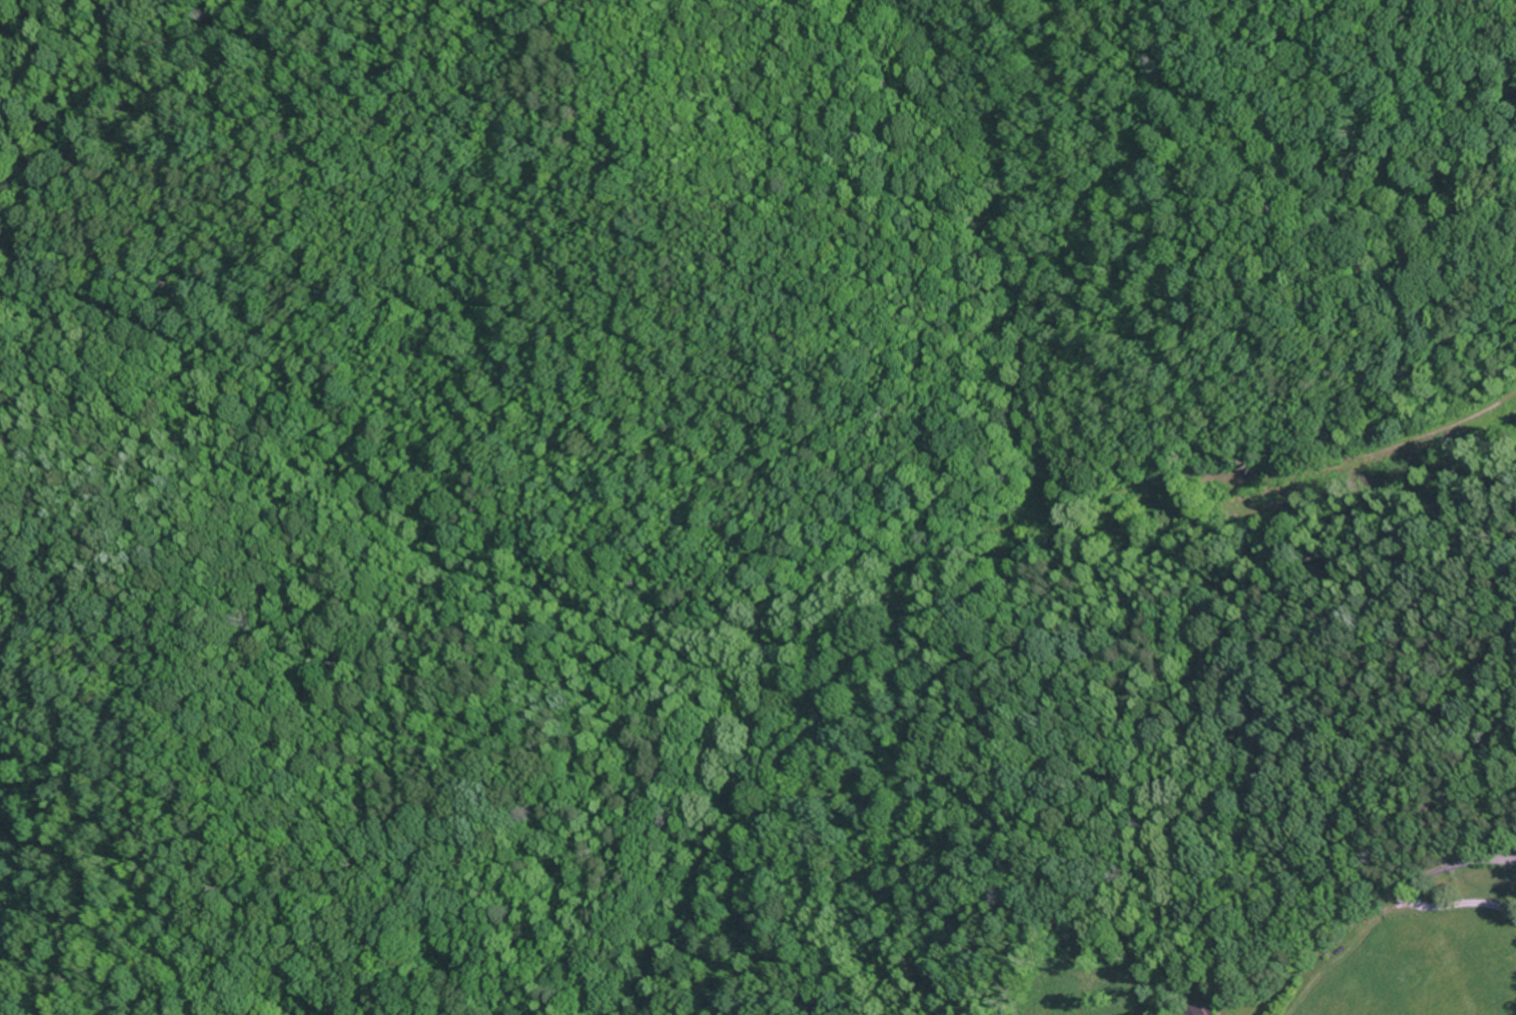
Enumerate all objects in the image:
road: (1415, 977)

